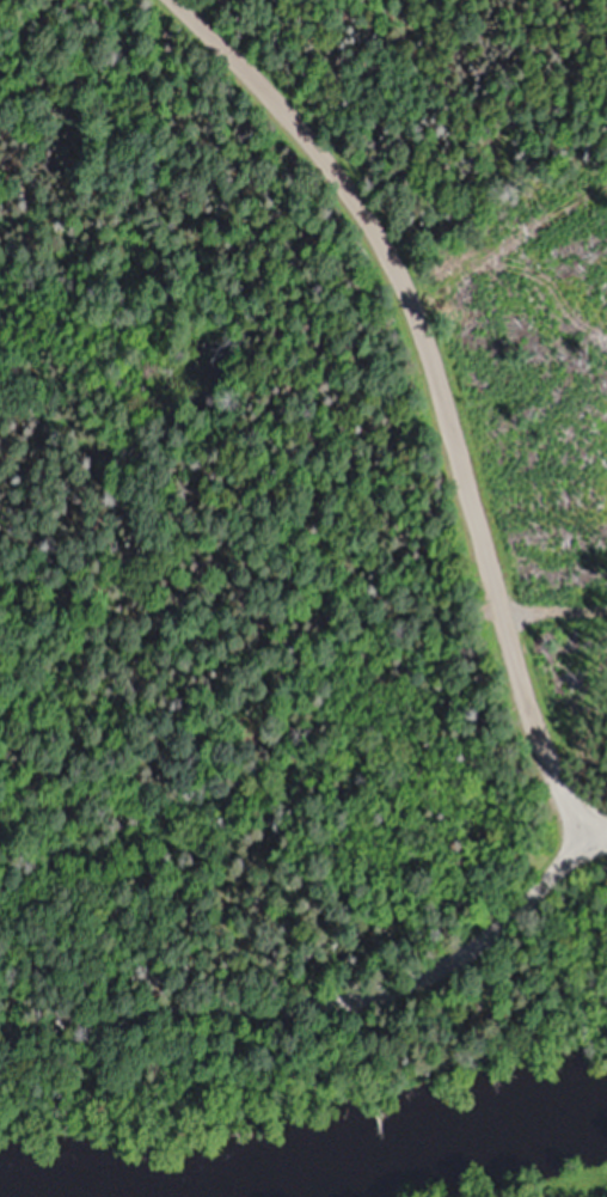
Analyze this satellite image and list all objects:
road: (441, 397)
park: (47, 955)
road: (324, 1010)
river: (303, 1171)

